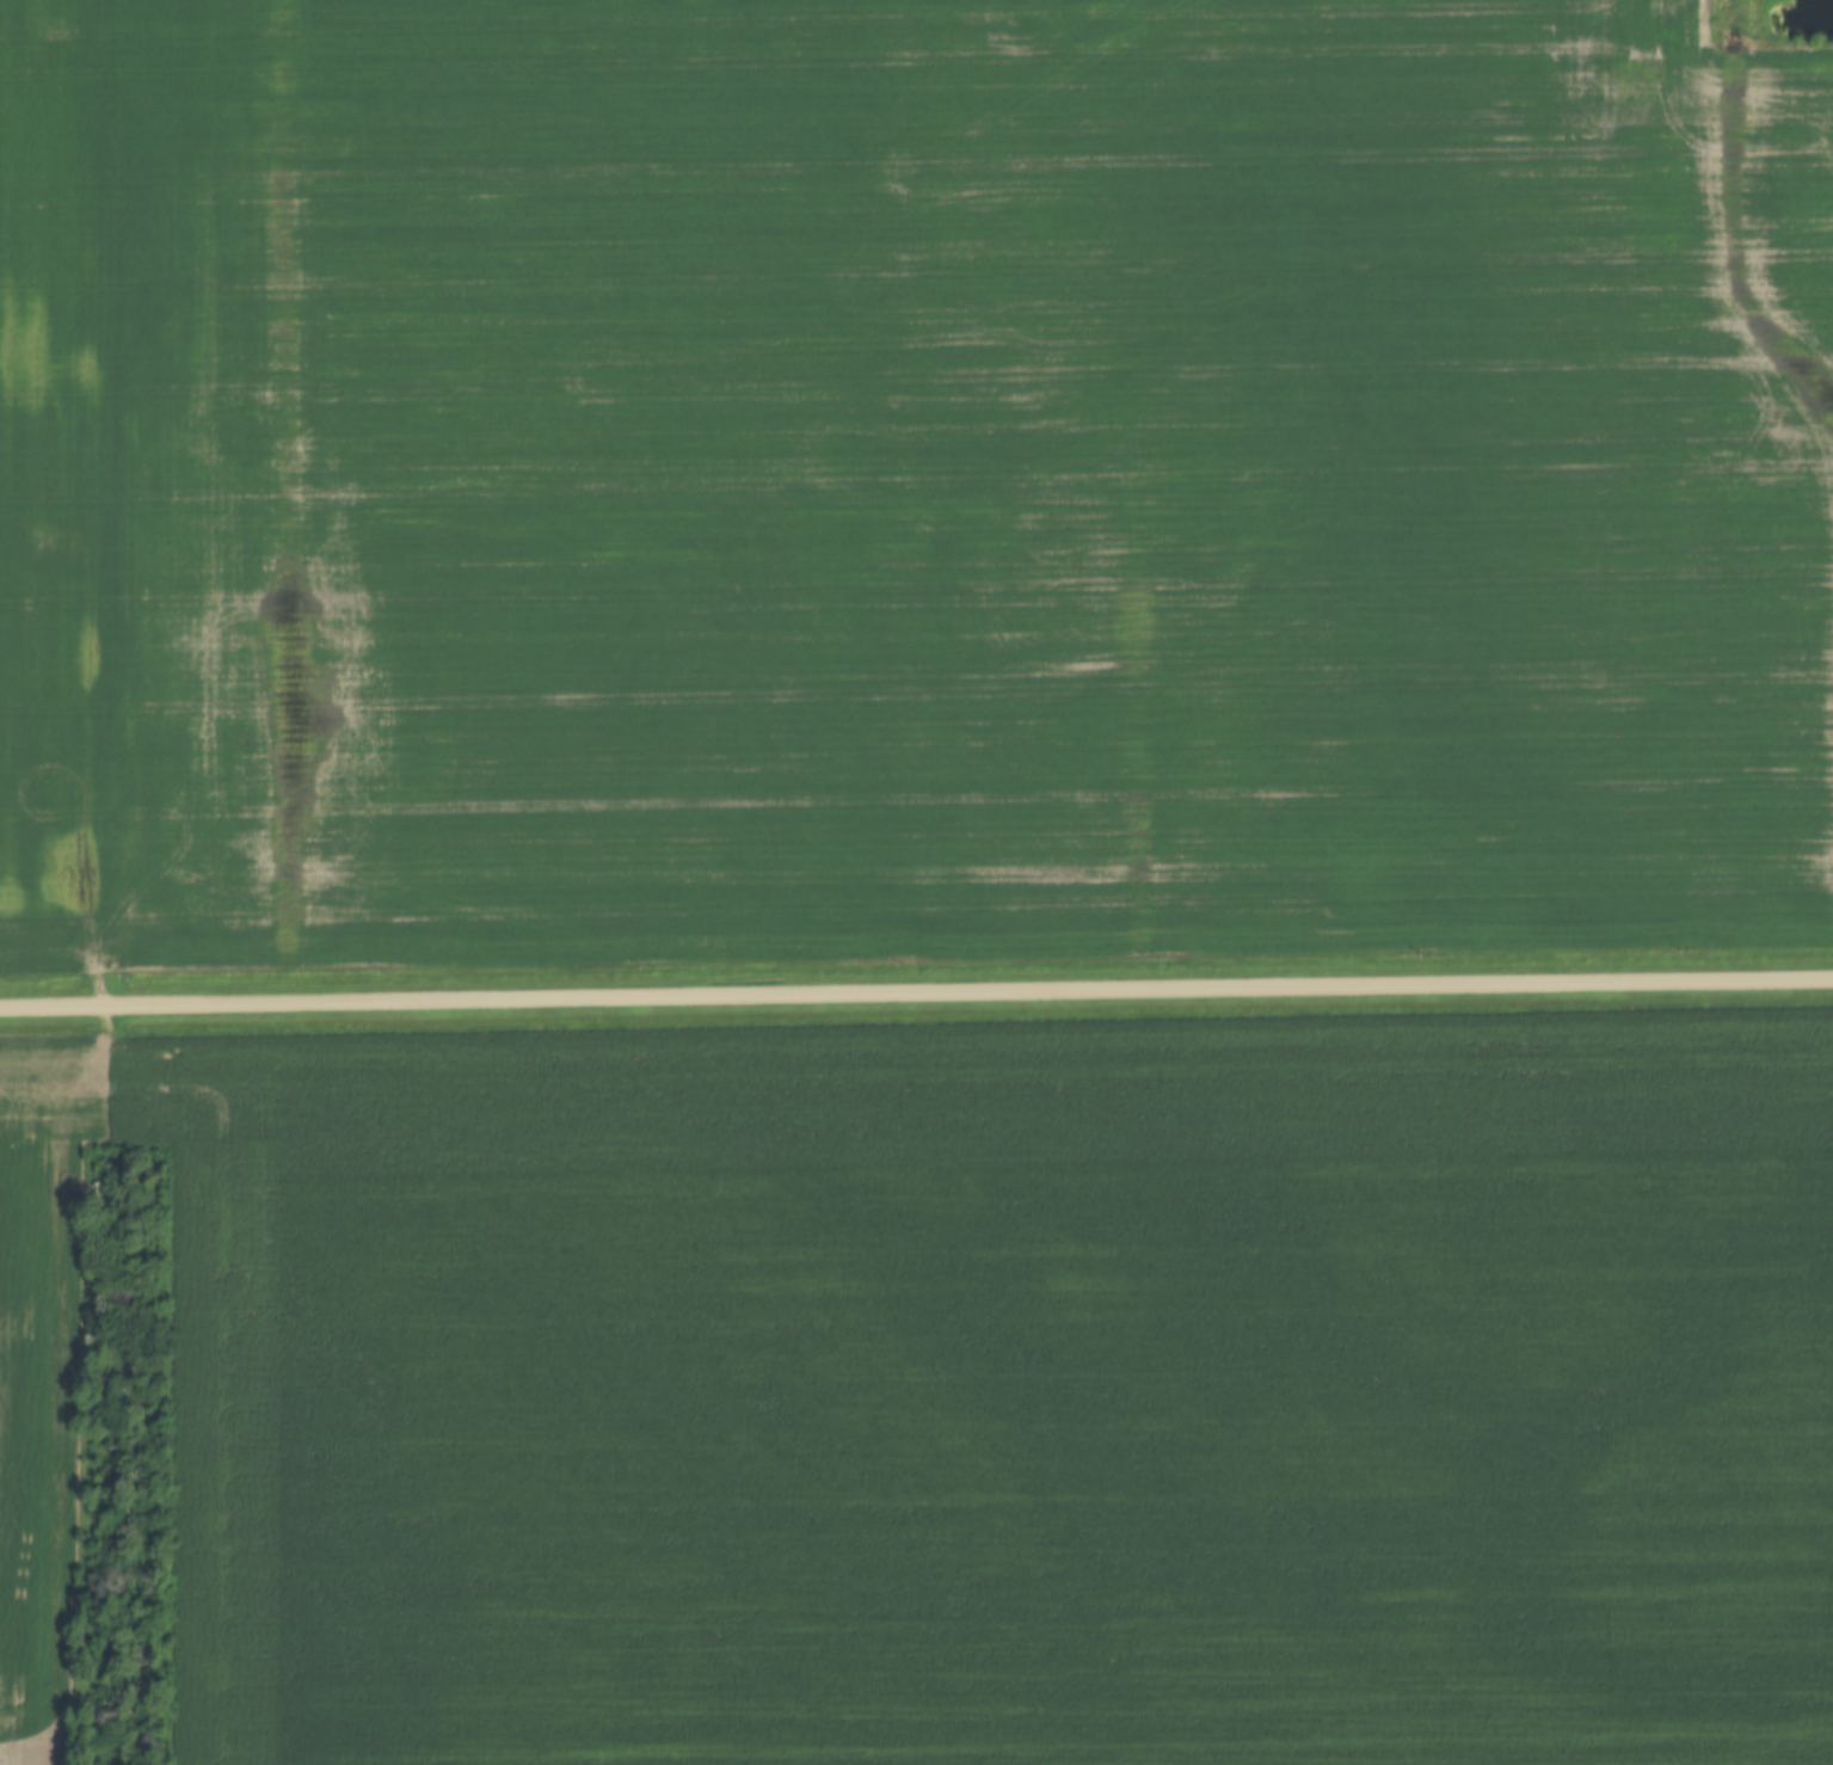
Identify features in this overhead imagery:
road: (916, 996)
road: (74, 1383)

